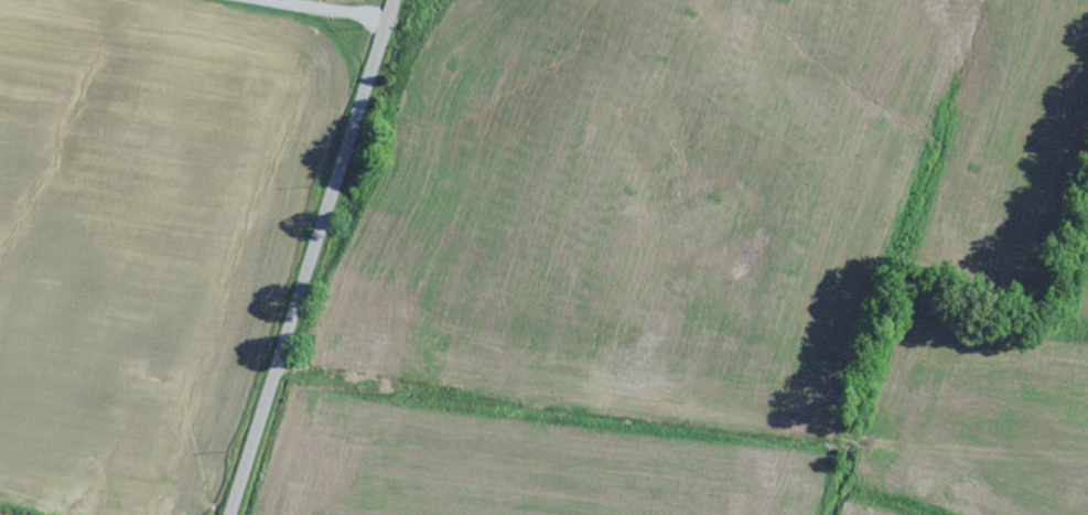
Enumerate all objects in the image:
road: (315, 257)

